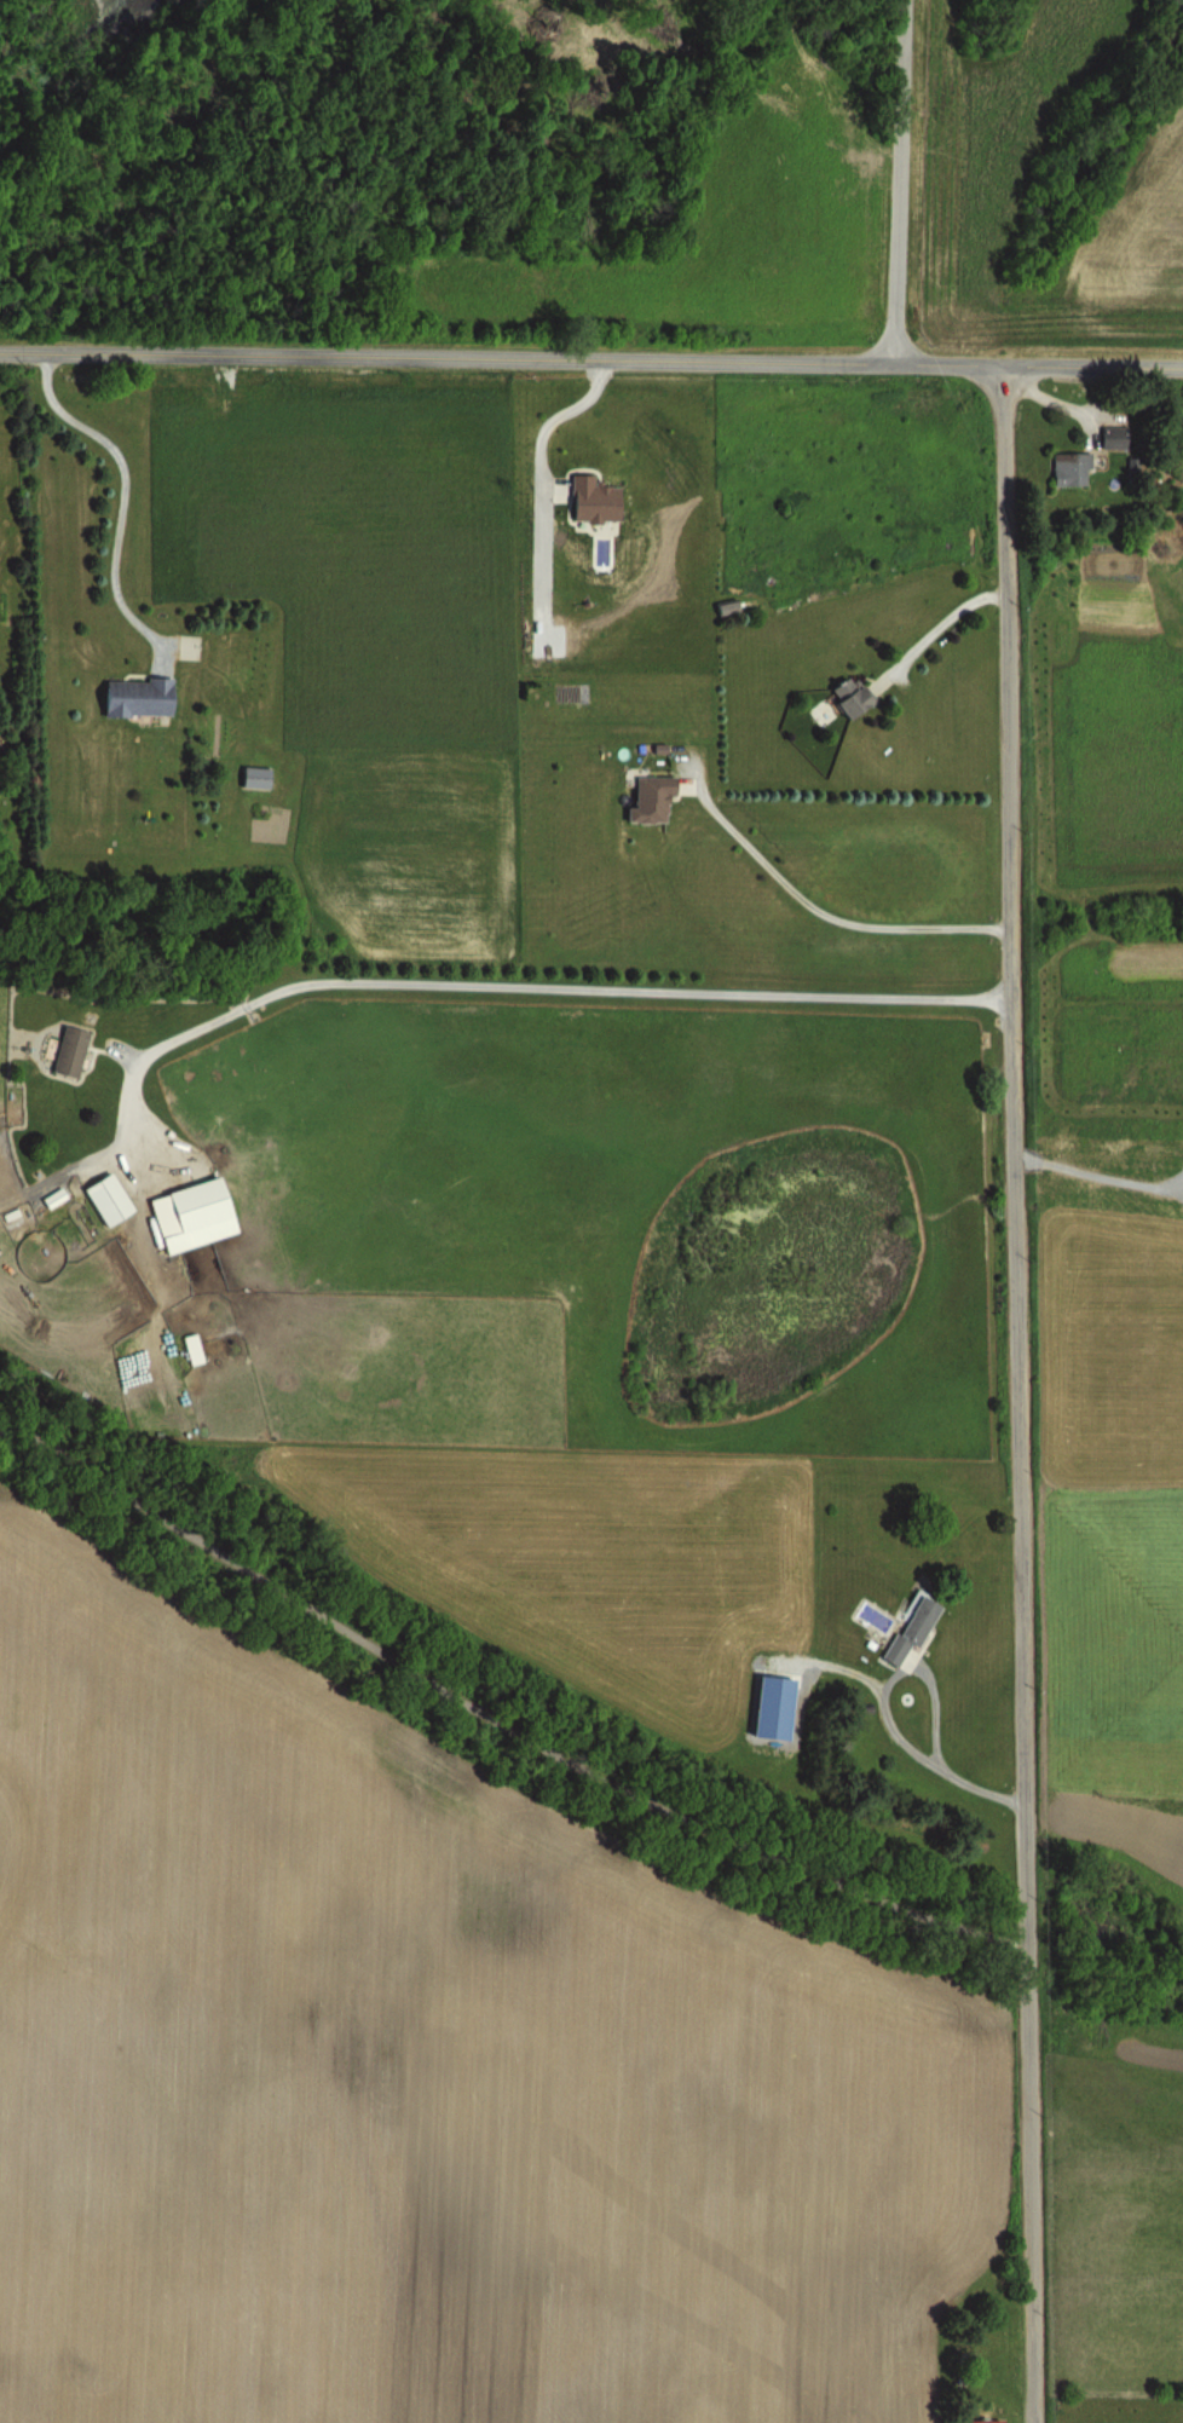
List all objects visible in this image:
road: (896, 180)
road: (591, 357)
building: (1109, 437)
building: (1068, 468)
road: (116, 488)
road: (934, 628)
building: (843, 693)
building: (133, 696)
building: (646, 797)
road: (812, 905)
road: (543, 987)
building: (65, 1049)
building: (103, 1198)
building: (191, 1204)
building: (187, 1349)
road: (1011, 1392)
building: (907, 1628)
road: (496, 1694)
road: (879, 1723)
road: (969, 1790)
building: (976, 2421)

